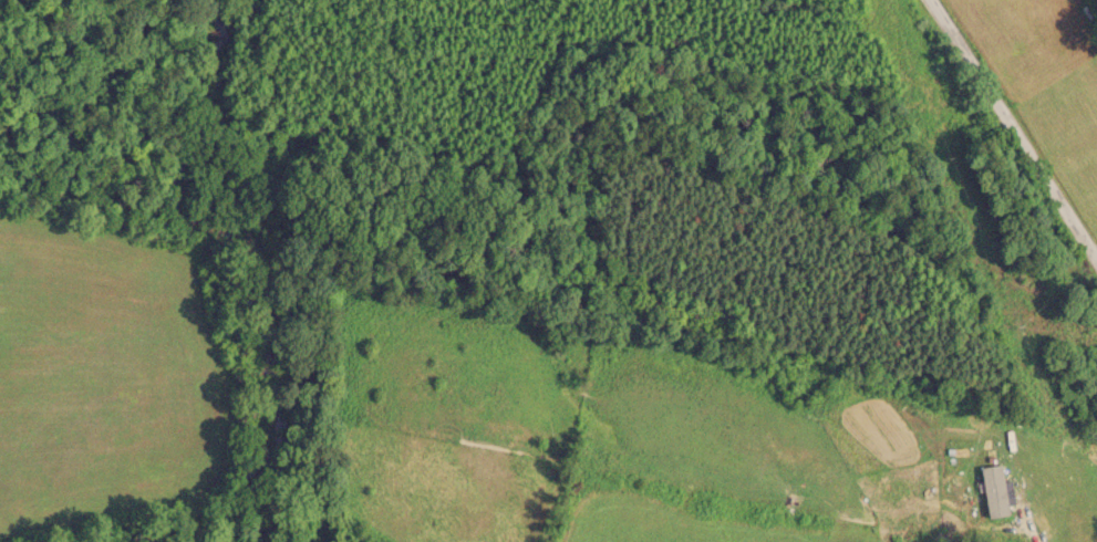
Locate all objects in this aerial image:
road: (1014, 128)

